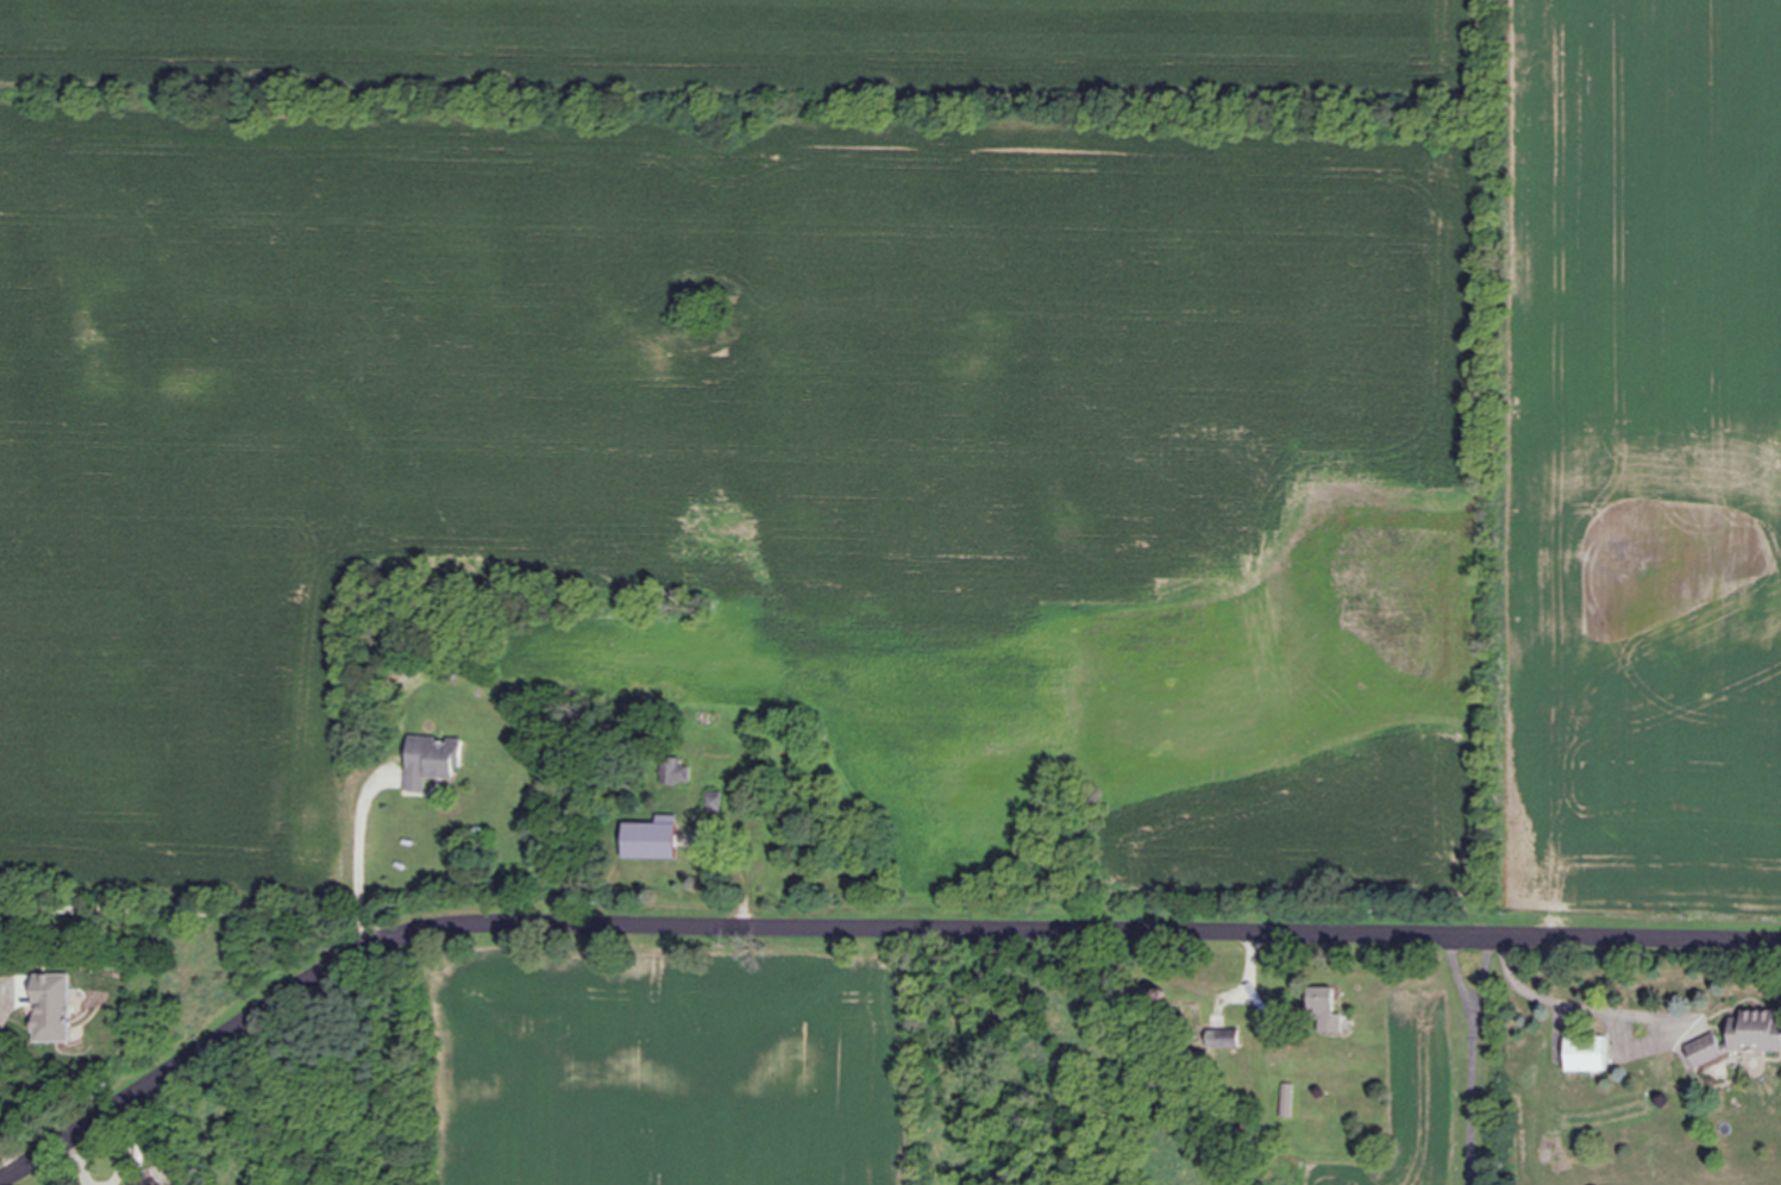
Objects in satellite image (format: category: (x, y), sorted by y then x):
building: (432, 760)
building: (677, 772)
building: (661, 849)
road: (363, 863)
road: (181, 910)
road: (855, 929)
road: (1564, 1003)
building: (1327, 1010)
building: (1756, 1033)
building: (1224, 1039)
building: (1587, 1054)
building: (1707, 1054)
road: (1476, 1060)
building: (148, 1177)

